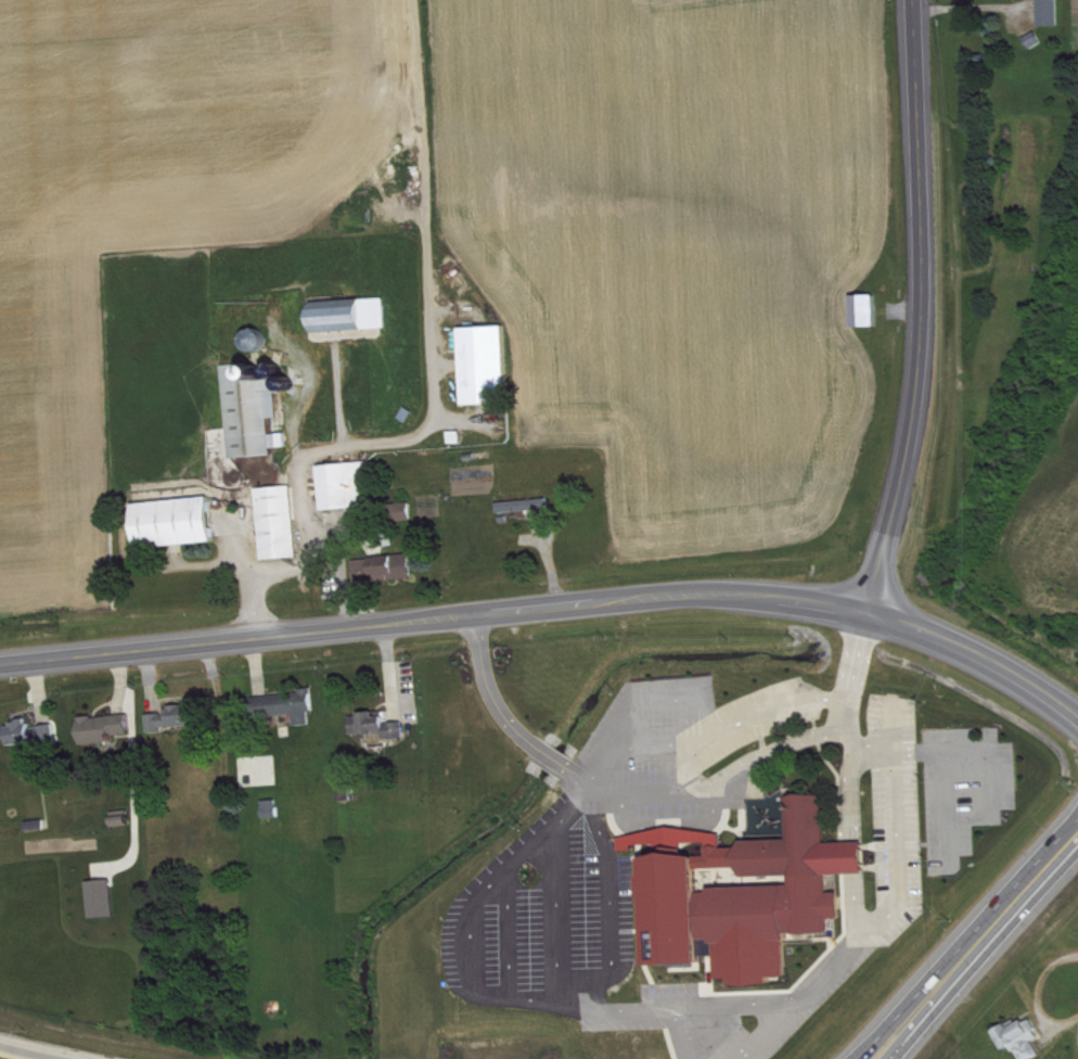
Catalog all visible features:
building: (1054, 14)
road: (925, 307)
building: (871, 312)
building: (356, 317)
building: (490, 368)
road: (432, 394)
building: (256, 413)
building: (351, 488)
building: (528, 508)
building: (179, 524)
building: (282, 525)
building: (388, 571)
road: (434, 617)
road: (978, 648)
road: (863, 658)
road: (488, 697)
building: (291, 709)
road: (772, 713)
building: (178, 720)
building: (382, 728)
building: (108, 730)
building: (35, 736)
road: (555, 760)
road: (580, 771)
road: (601, 794)
building: (275, 812)
road: (900, 819)
road: (1045, 864)
building: (749, 895)
building: (106, 901)
road: (944, 961)
road: (953, 982)
road: (1037, 993)
road: (805, 1000)
road: (713, 1009)
building: (1026, 1041)
road: (869, 1045)
road: (30, 1050)

